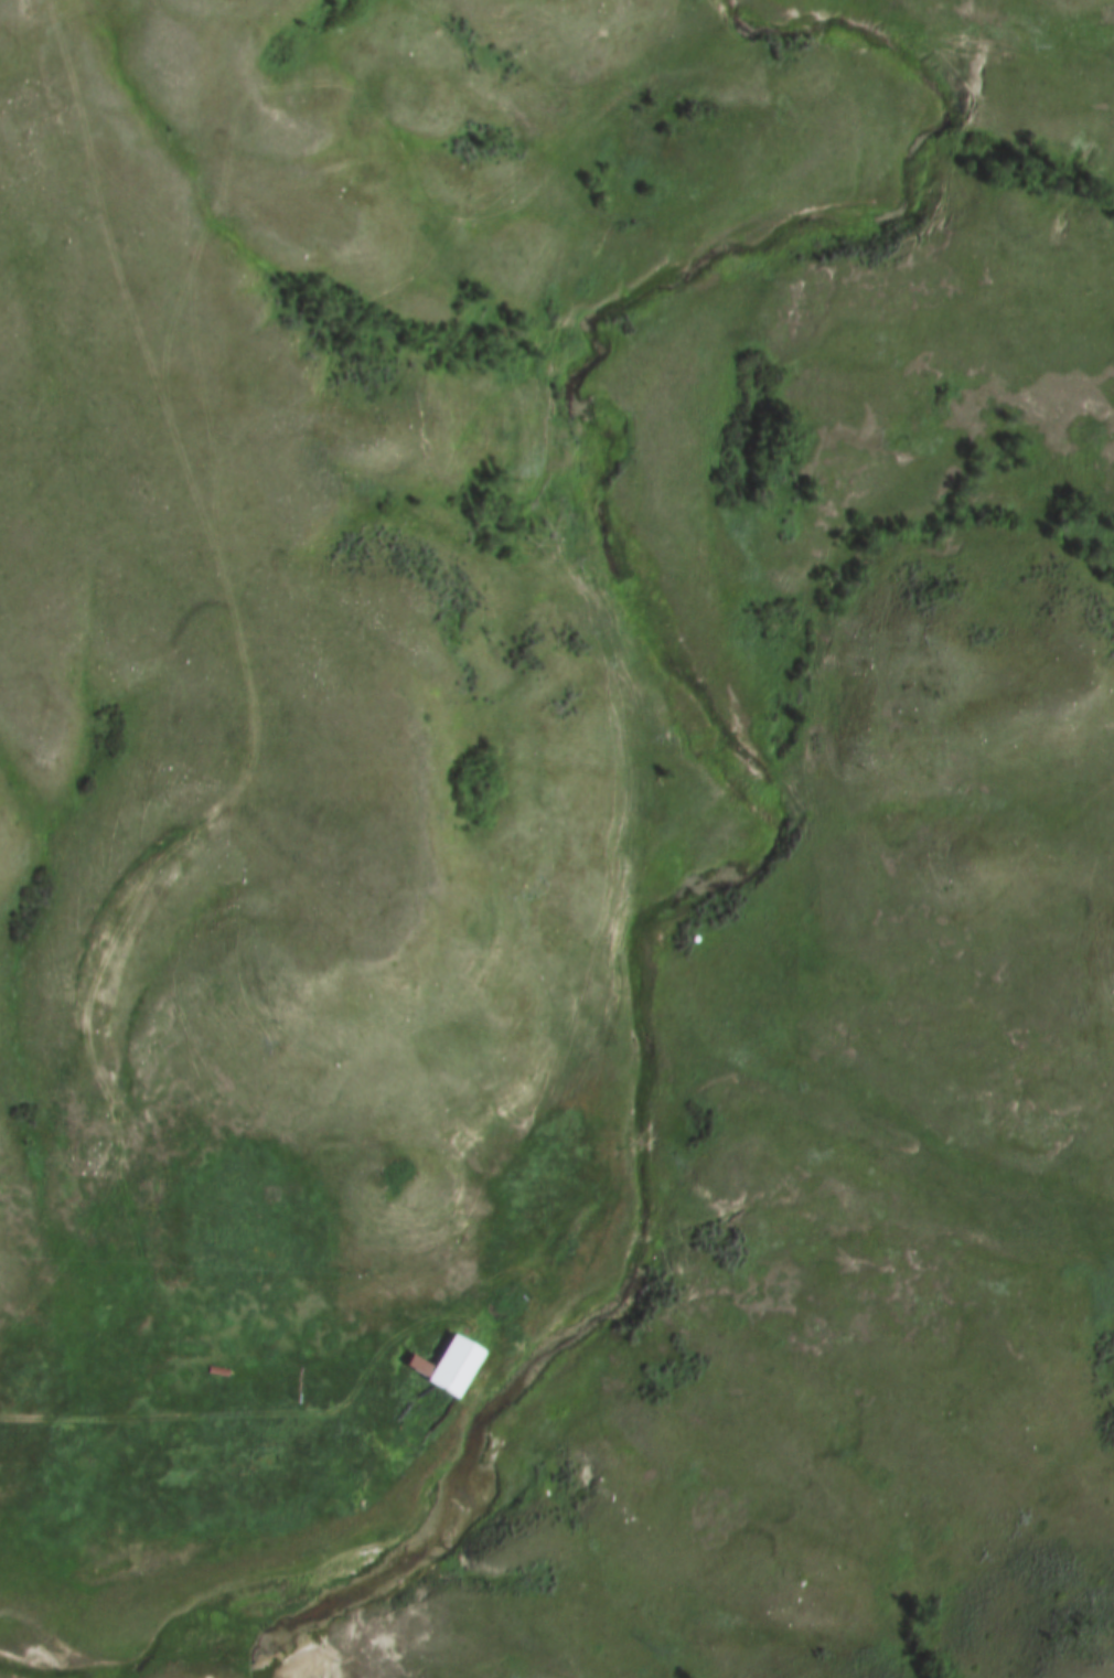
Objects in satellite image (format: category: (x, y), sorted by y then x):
building: (576, 1209)
building: (457, 1366)
road: (84, 1418)

